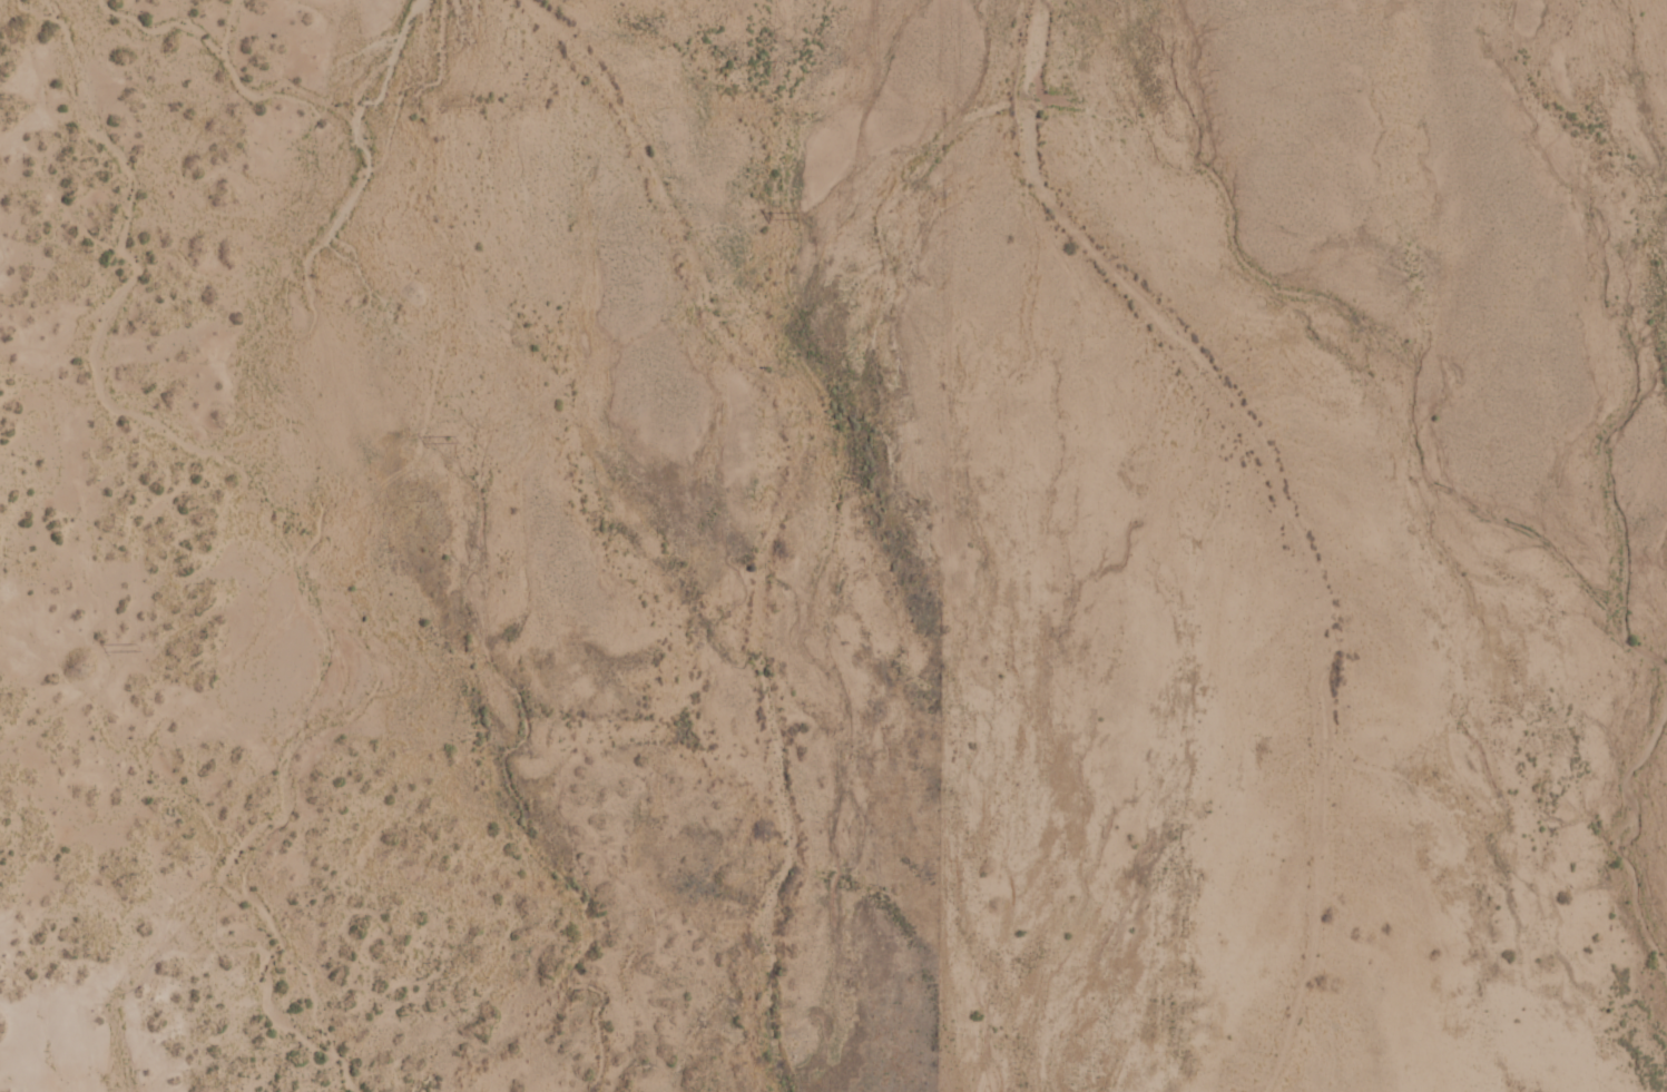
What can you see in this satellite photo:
road: (1506, 1074)

